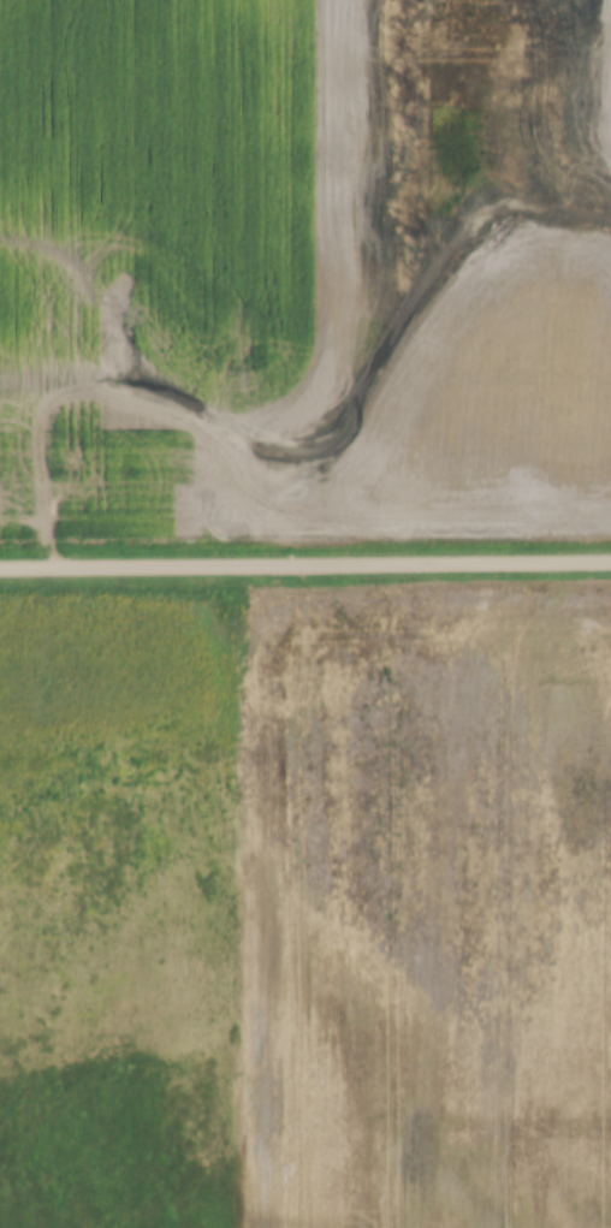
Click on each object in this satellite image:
road: (53, 285)
road: (305, 566)

